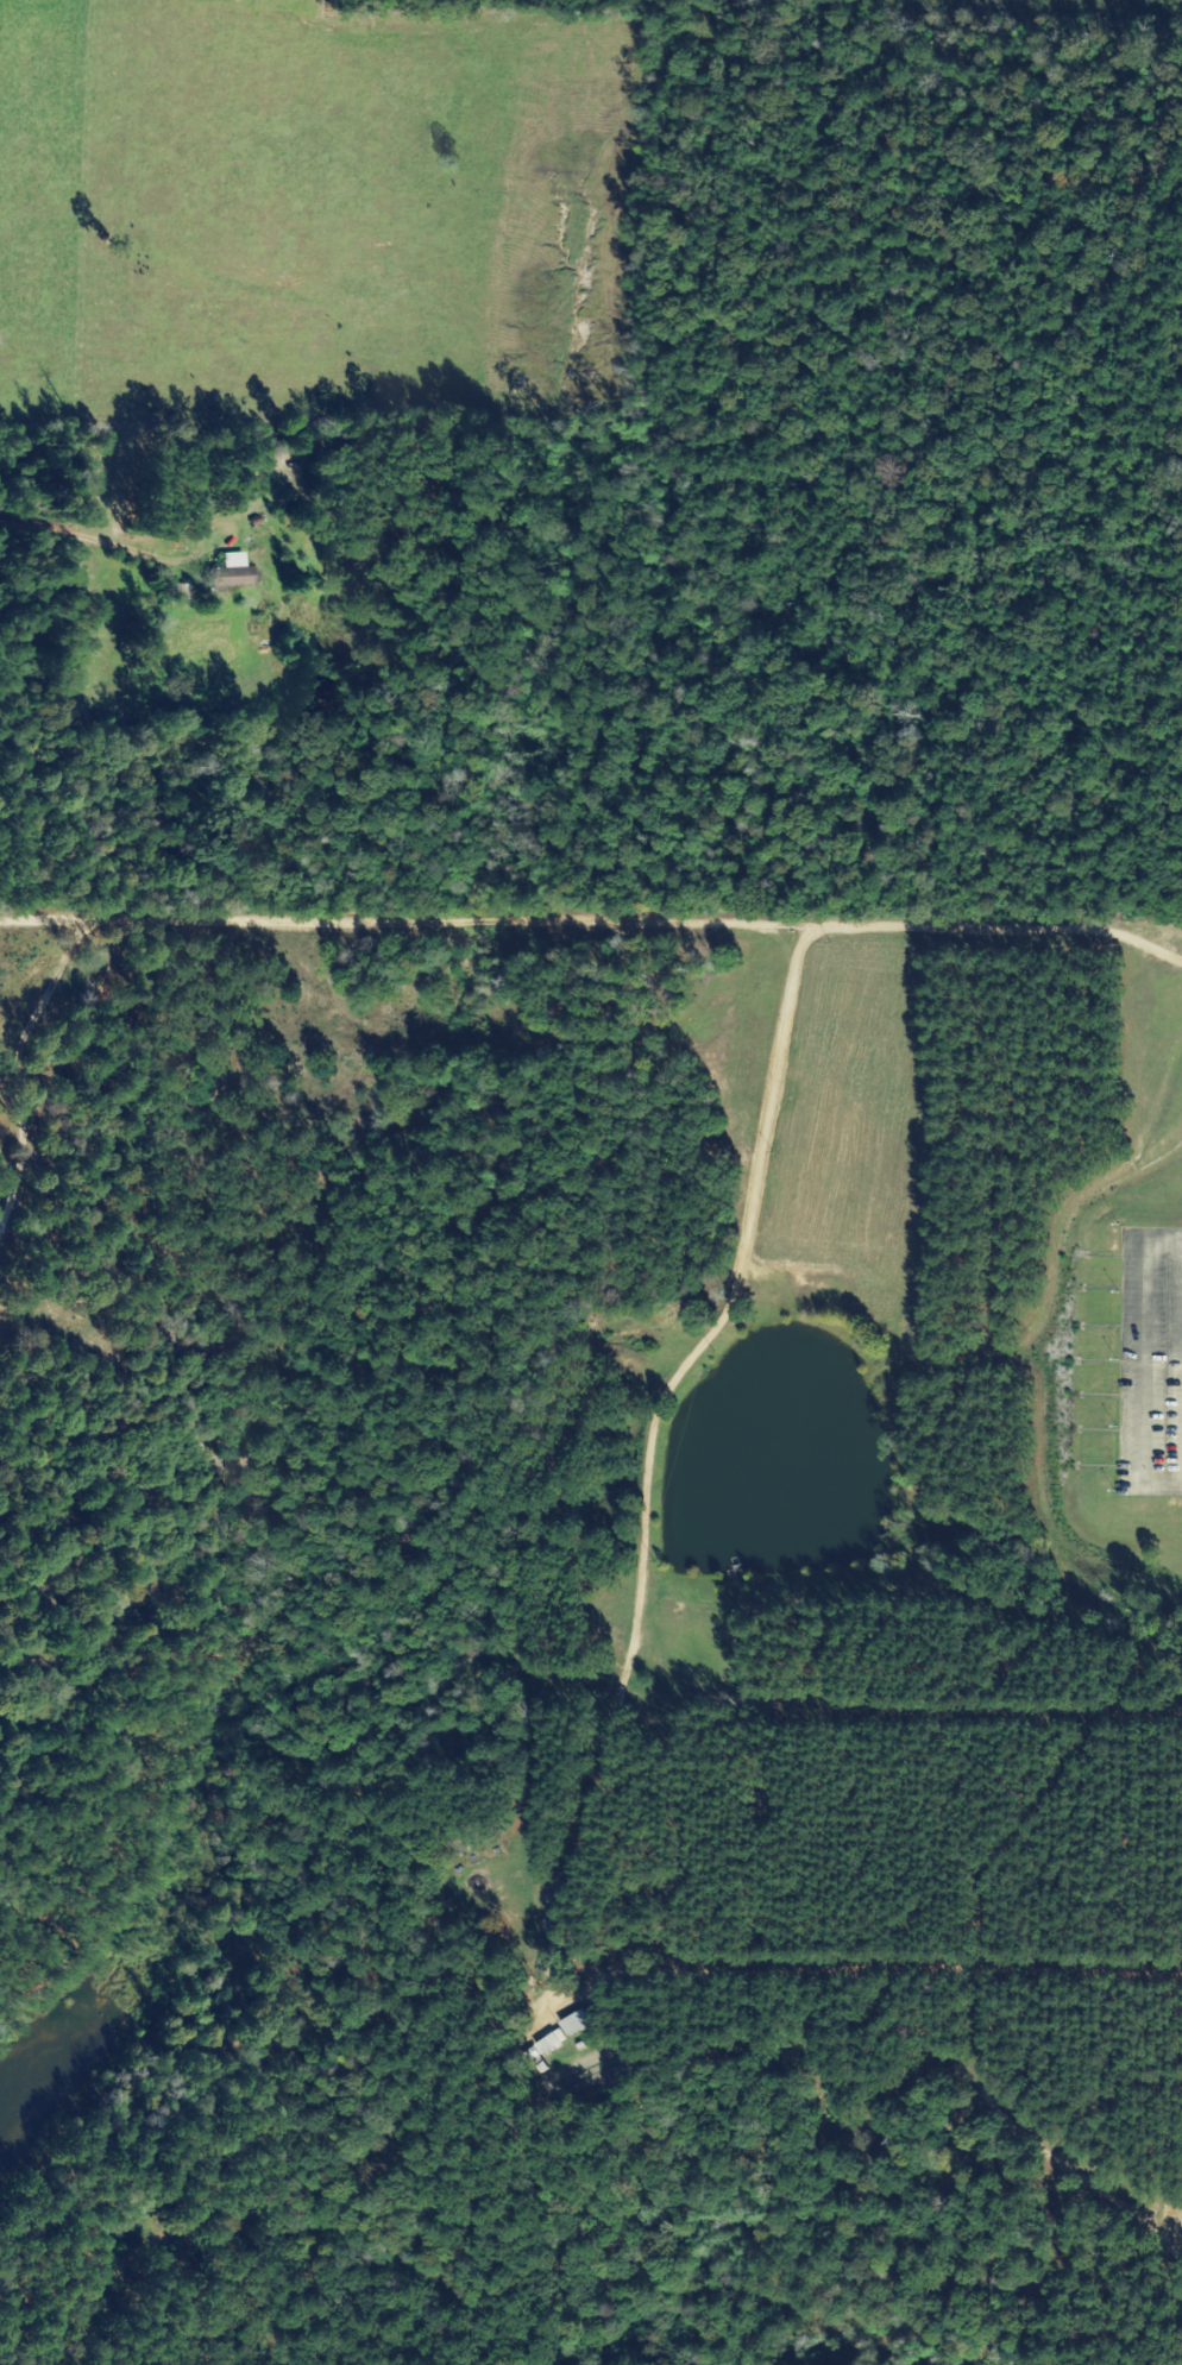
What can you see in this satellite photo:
building: (231, 573)
road: (89, 630)
parking lot: (1150, 1356)
building: (571, 2023)

